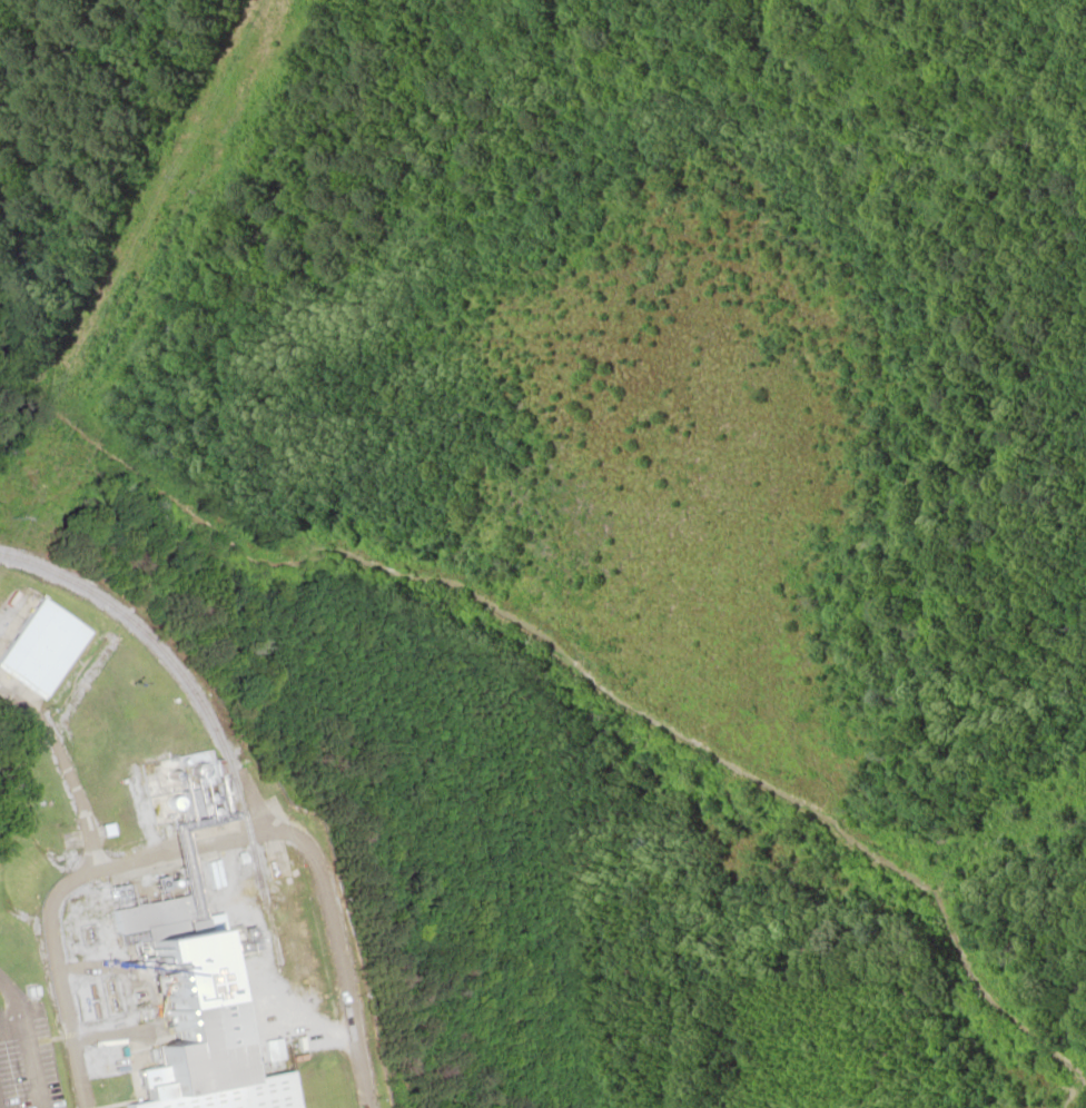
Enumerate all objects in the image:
building: (46, 645)
building: (191, 809)
building: (172, 927)
building: (218, 1059)

